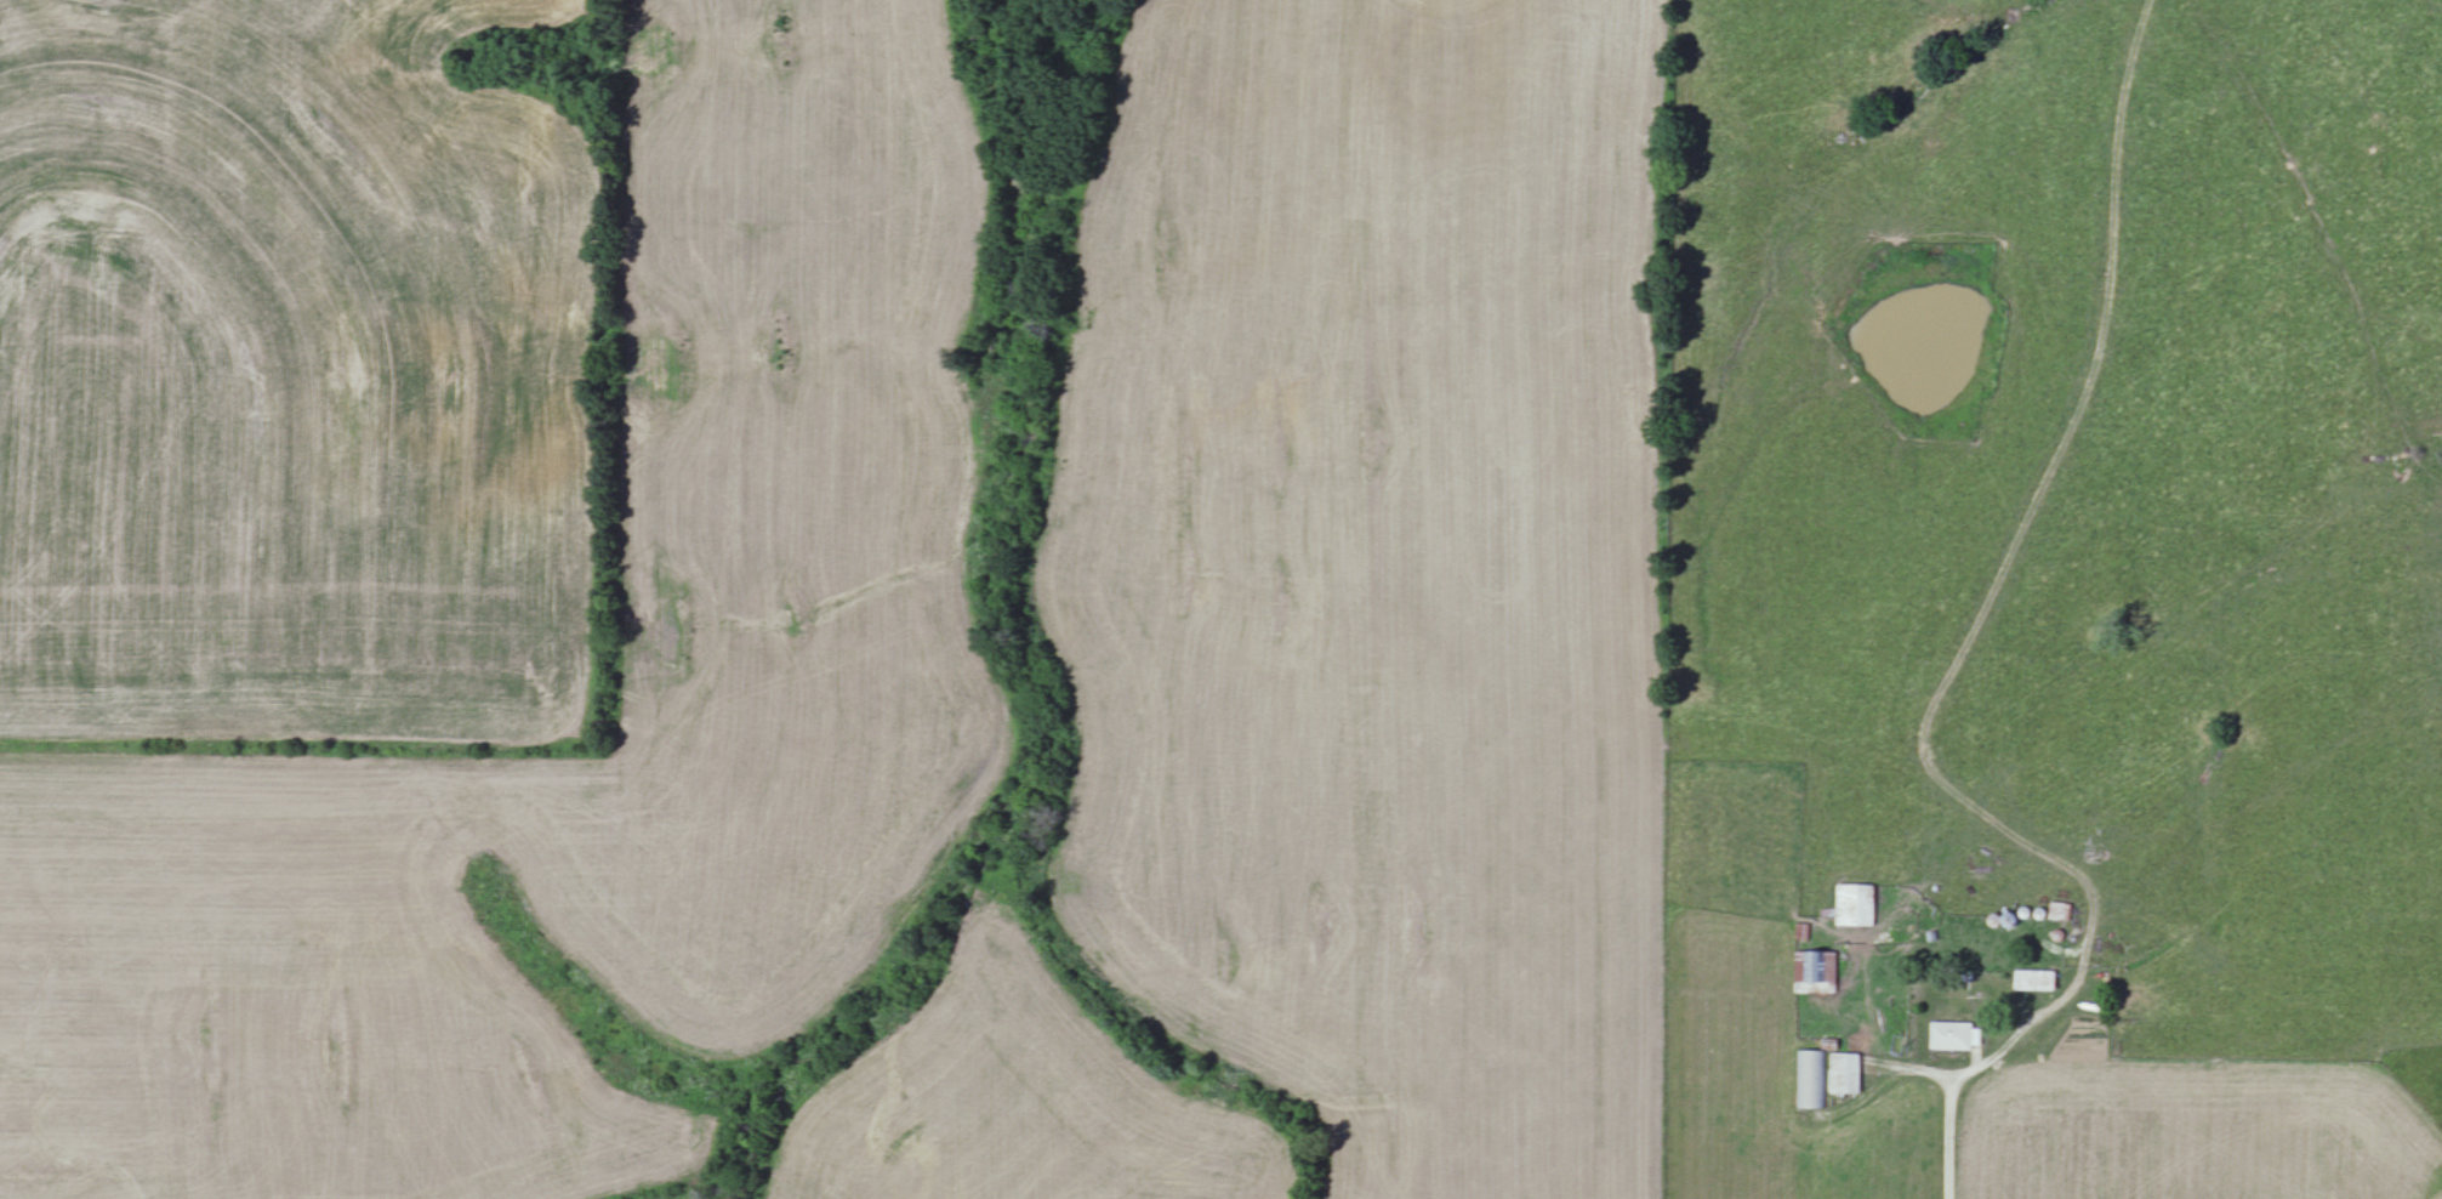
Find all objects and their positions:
building: (1858, 903)
building: (2062, 909)
building: (1818, 971)
building: (2038, 978)
building: (1956, 1035)
building: (1848, 1073)
building: (1814, 1078)
road: (1949, 1132)

